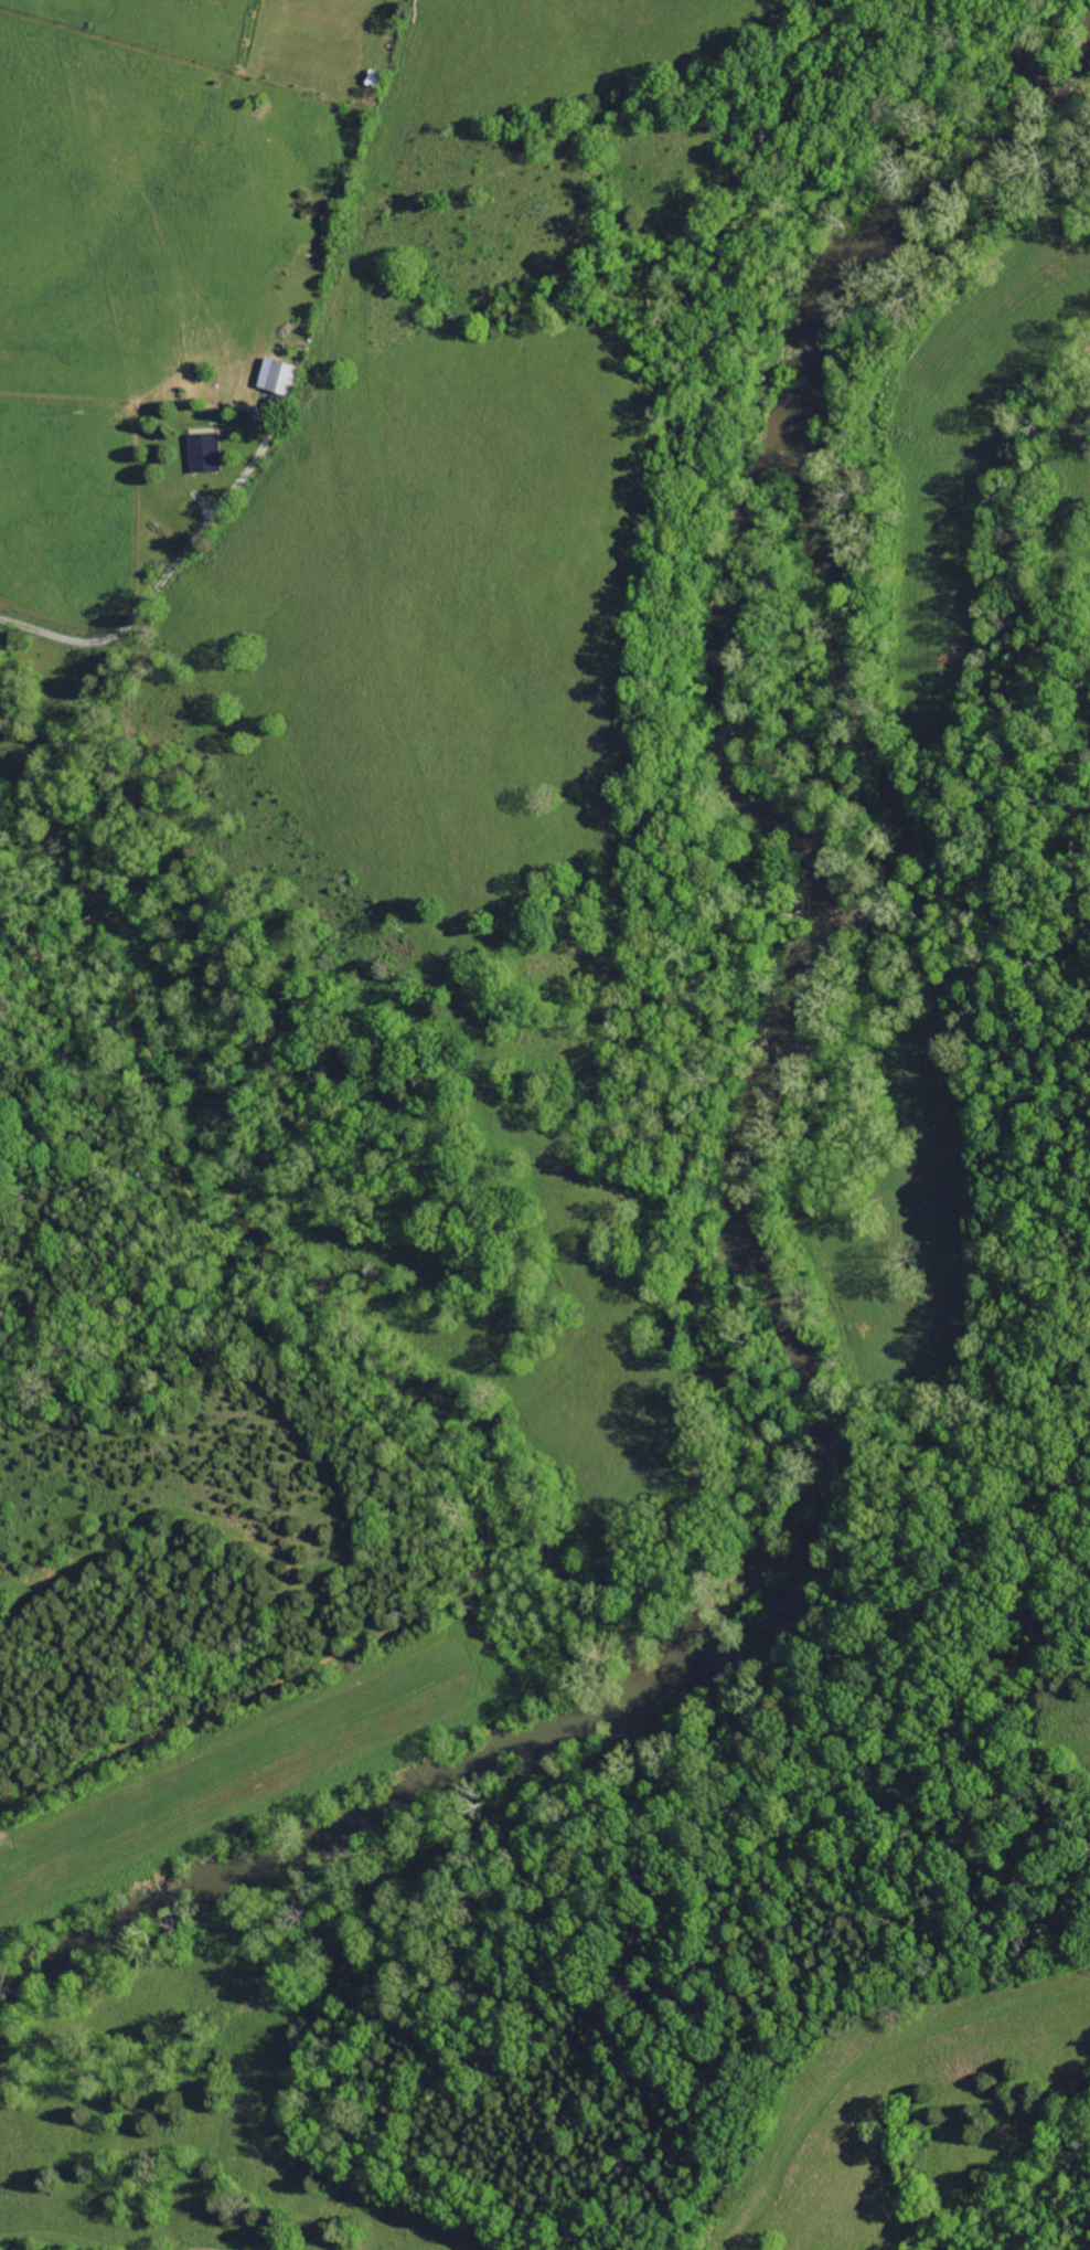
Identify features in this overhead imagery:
building: (275, 375)
road: (904, 2058)

